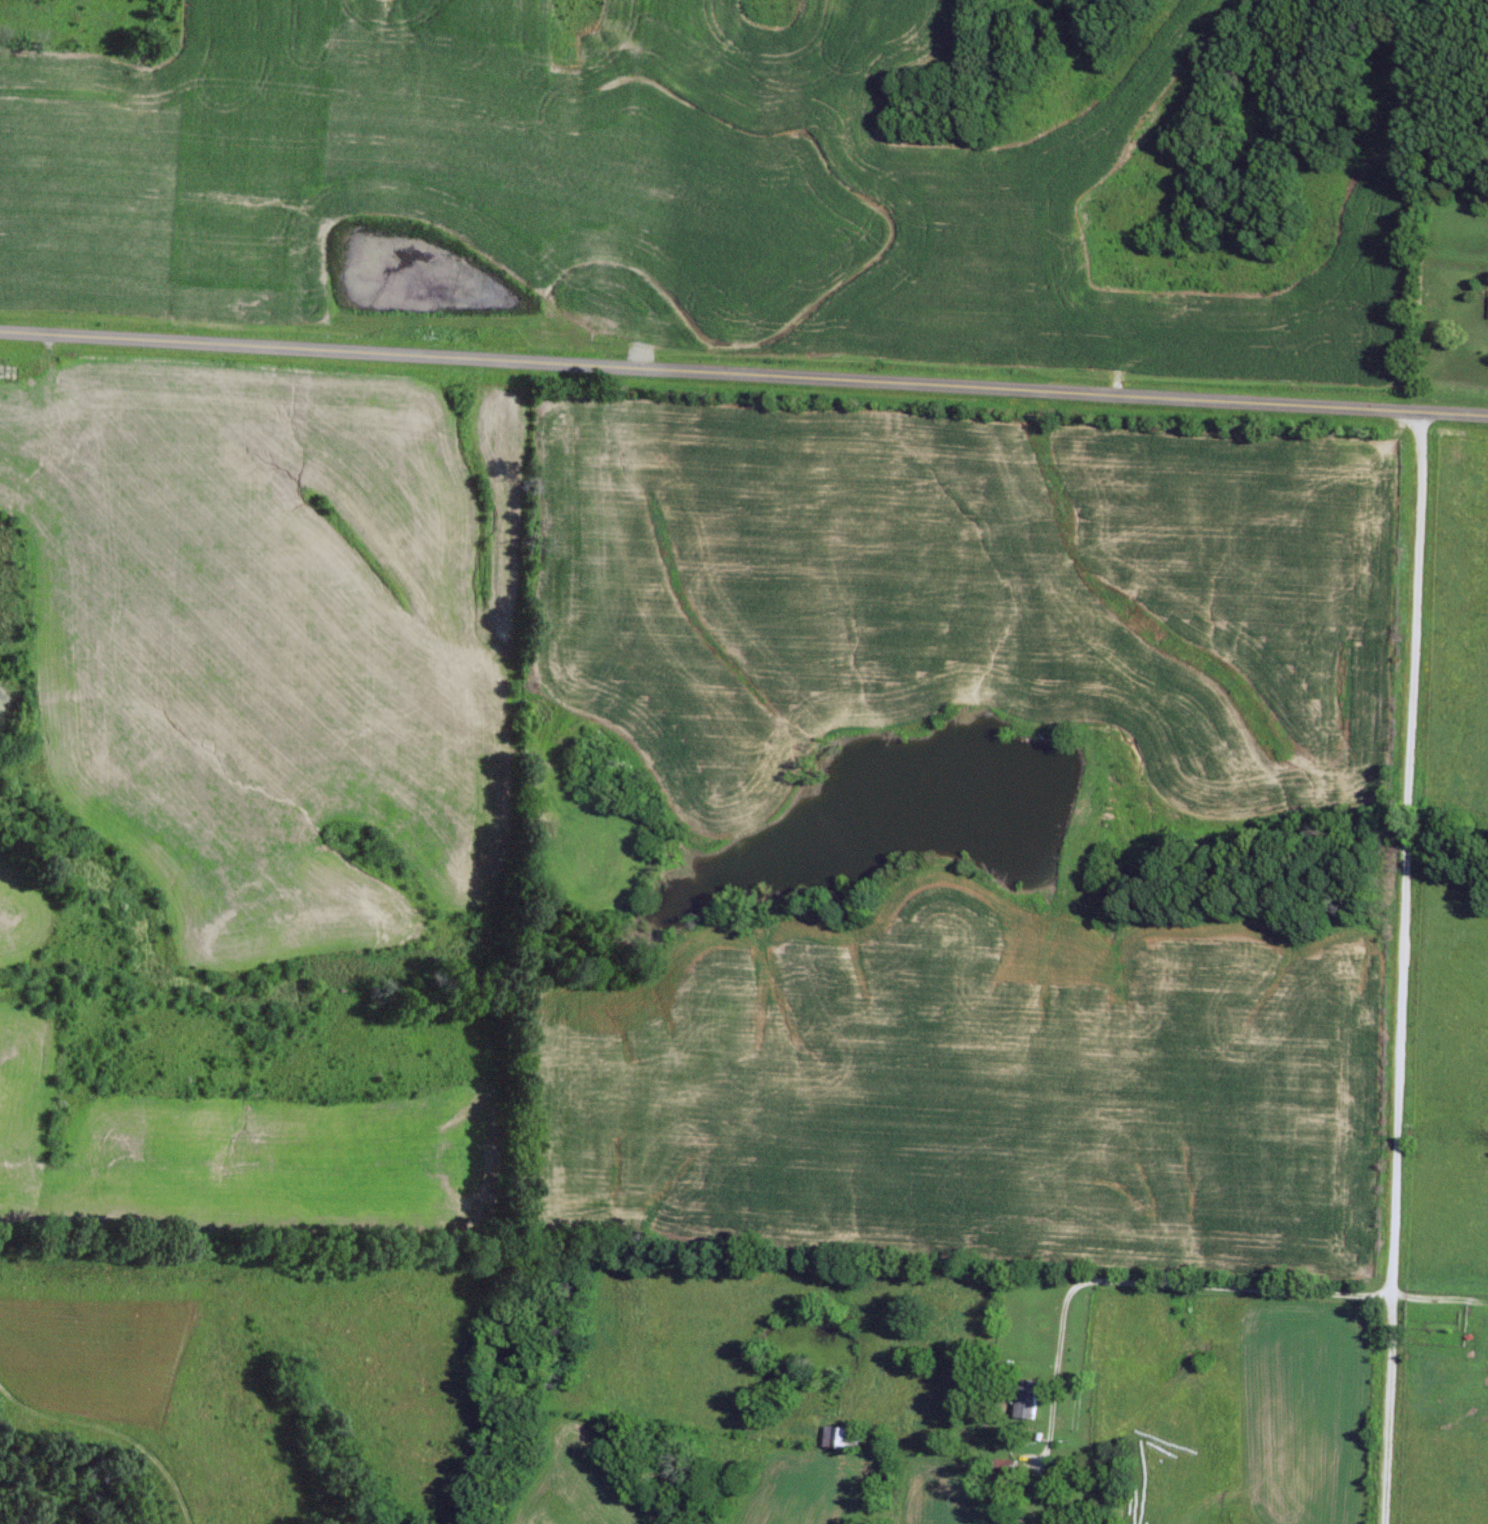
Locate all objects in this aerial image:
road: (743, 372)
road: (1404, 967)
road: (1140, 1280)
building: (1030, 1400)
building: (844, 1438)
building: (1006, 1472)

